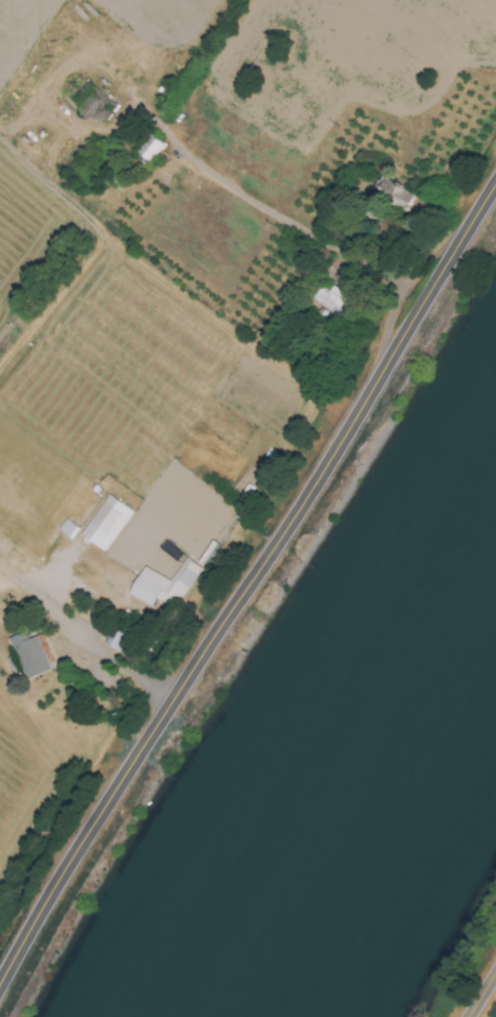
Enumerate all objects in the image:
building: (149, 149)
building: (393, 195)
road: (286, 221)
road: (400, 291)
crop: (191, 350)
building: (105, 523)
building: (67, 529)
building: (163, 584)
road: (251, 593)
road: (31, 595)
building: (115, 641)
road: (95, 649)
building: (31, 656)
river: (362, 791)
road: (483, 996)
crop: (486, 1001)

